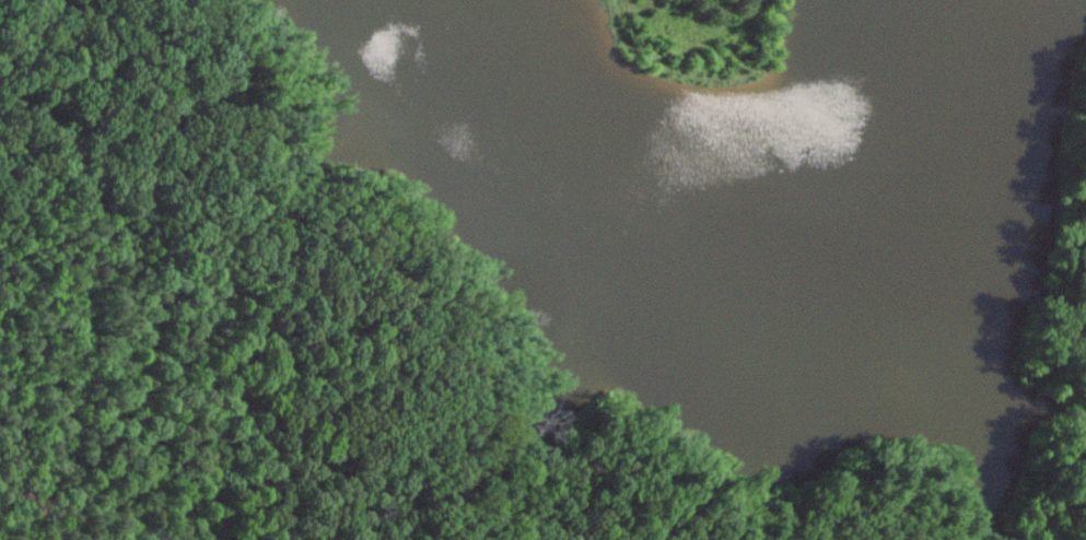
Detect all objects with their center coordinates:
river: (1024, 193)
river: (594, 307)

